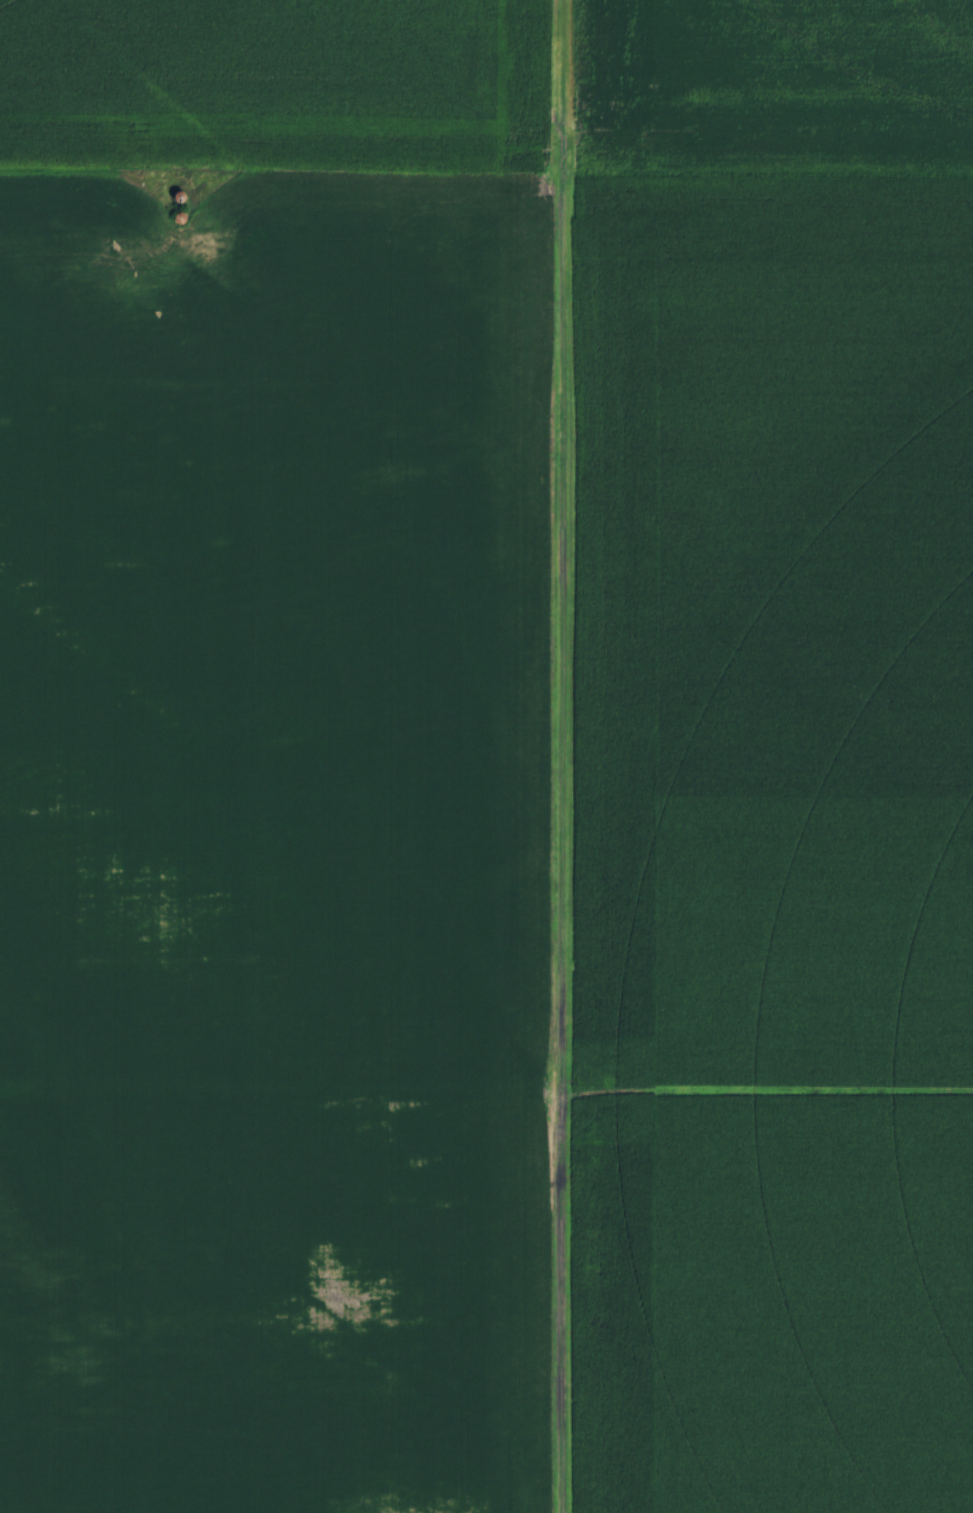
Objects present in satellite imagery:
road: (562, 756)

